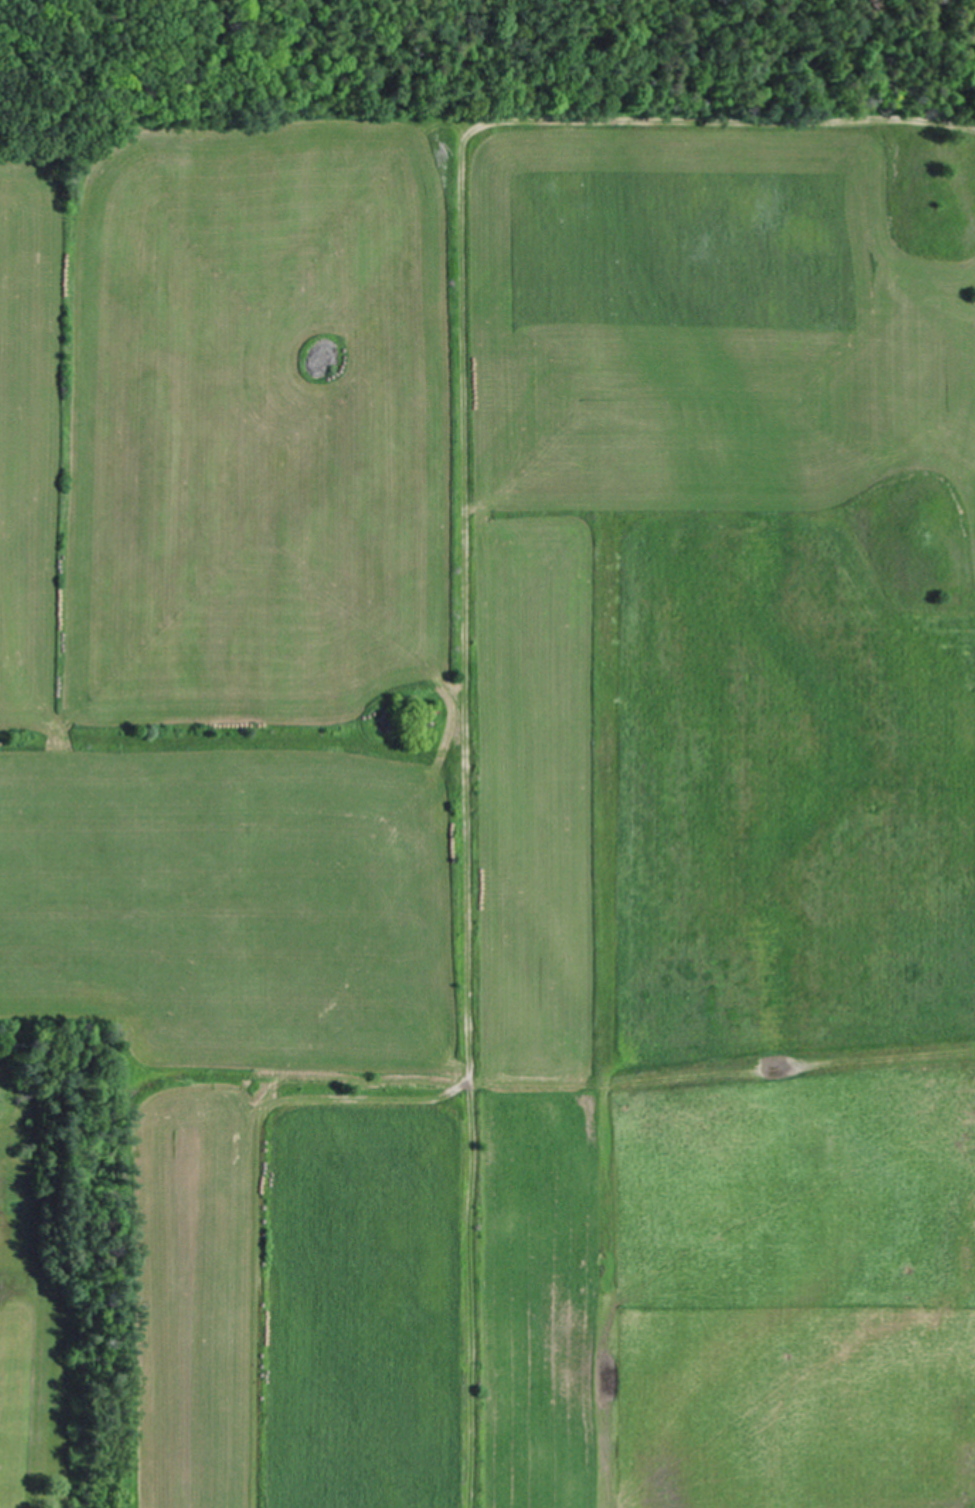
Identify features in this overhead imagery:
park: (61, 1275)

